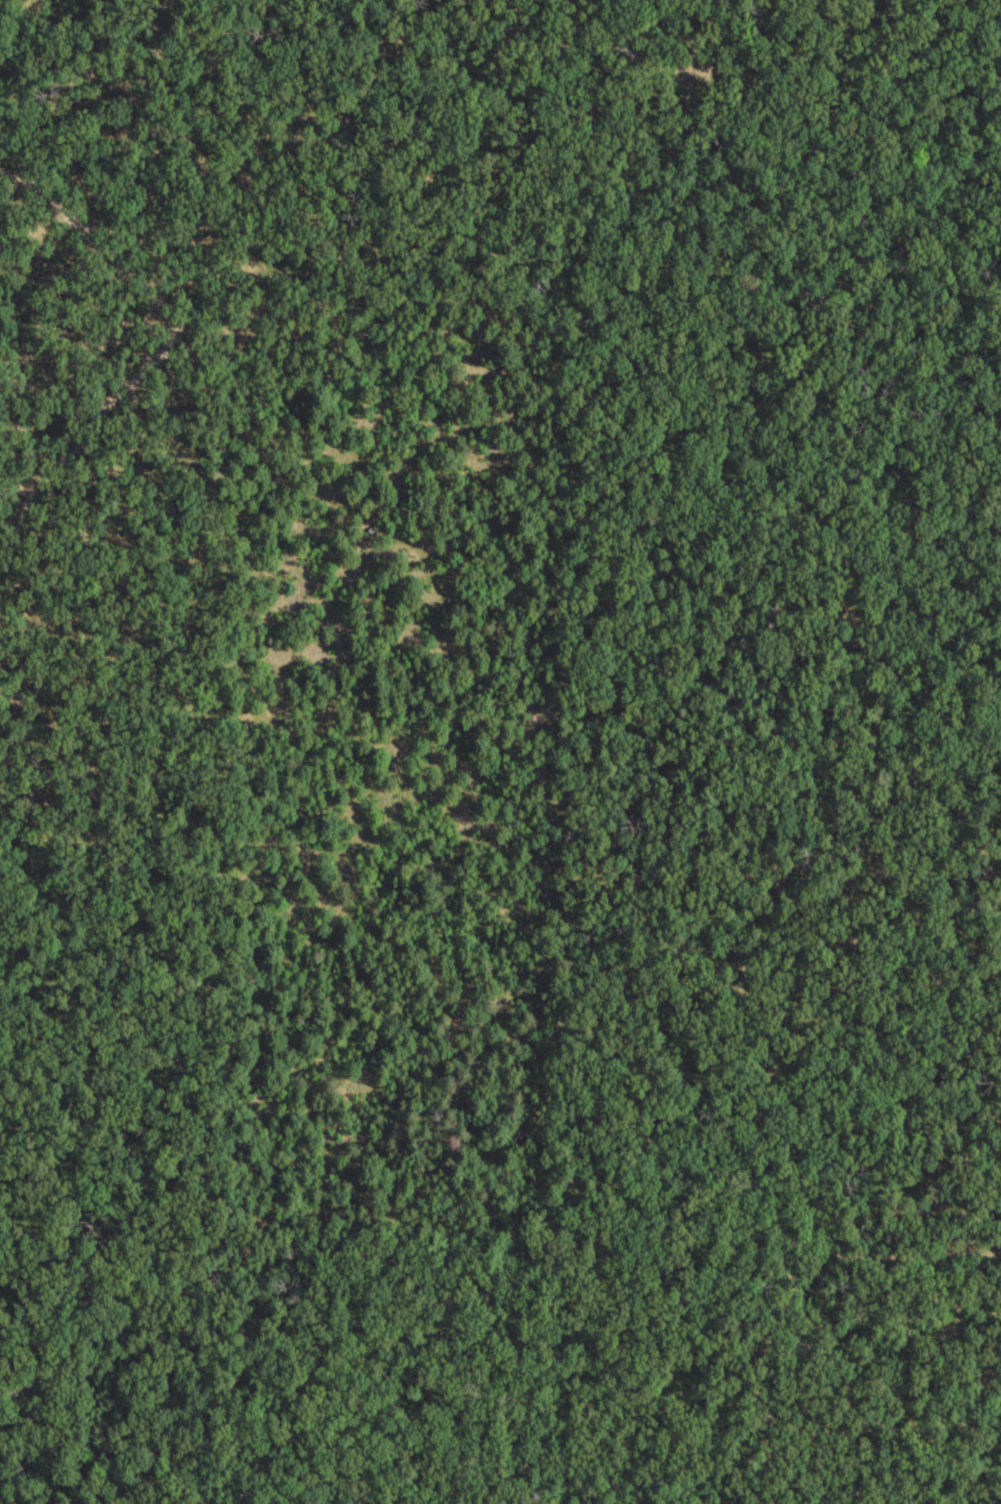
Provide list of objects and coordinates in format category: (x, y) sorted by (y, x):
road: (229, 1)

